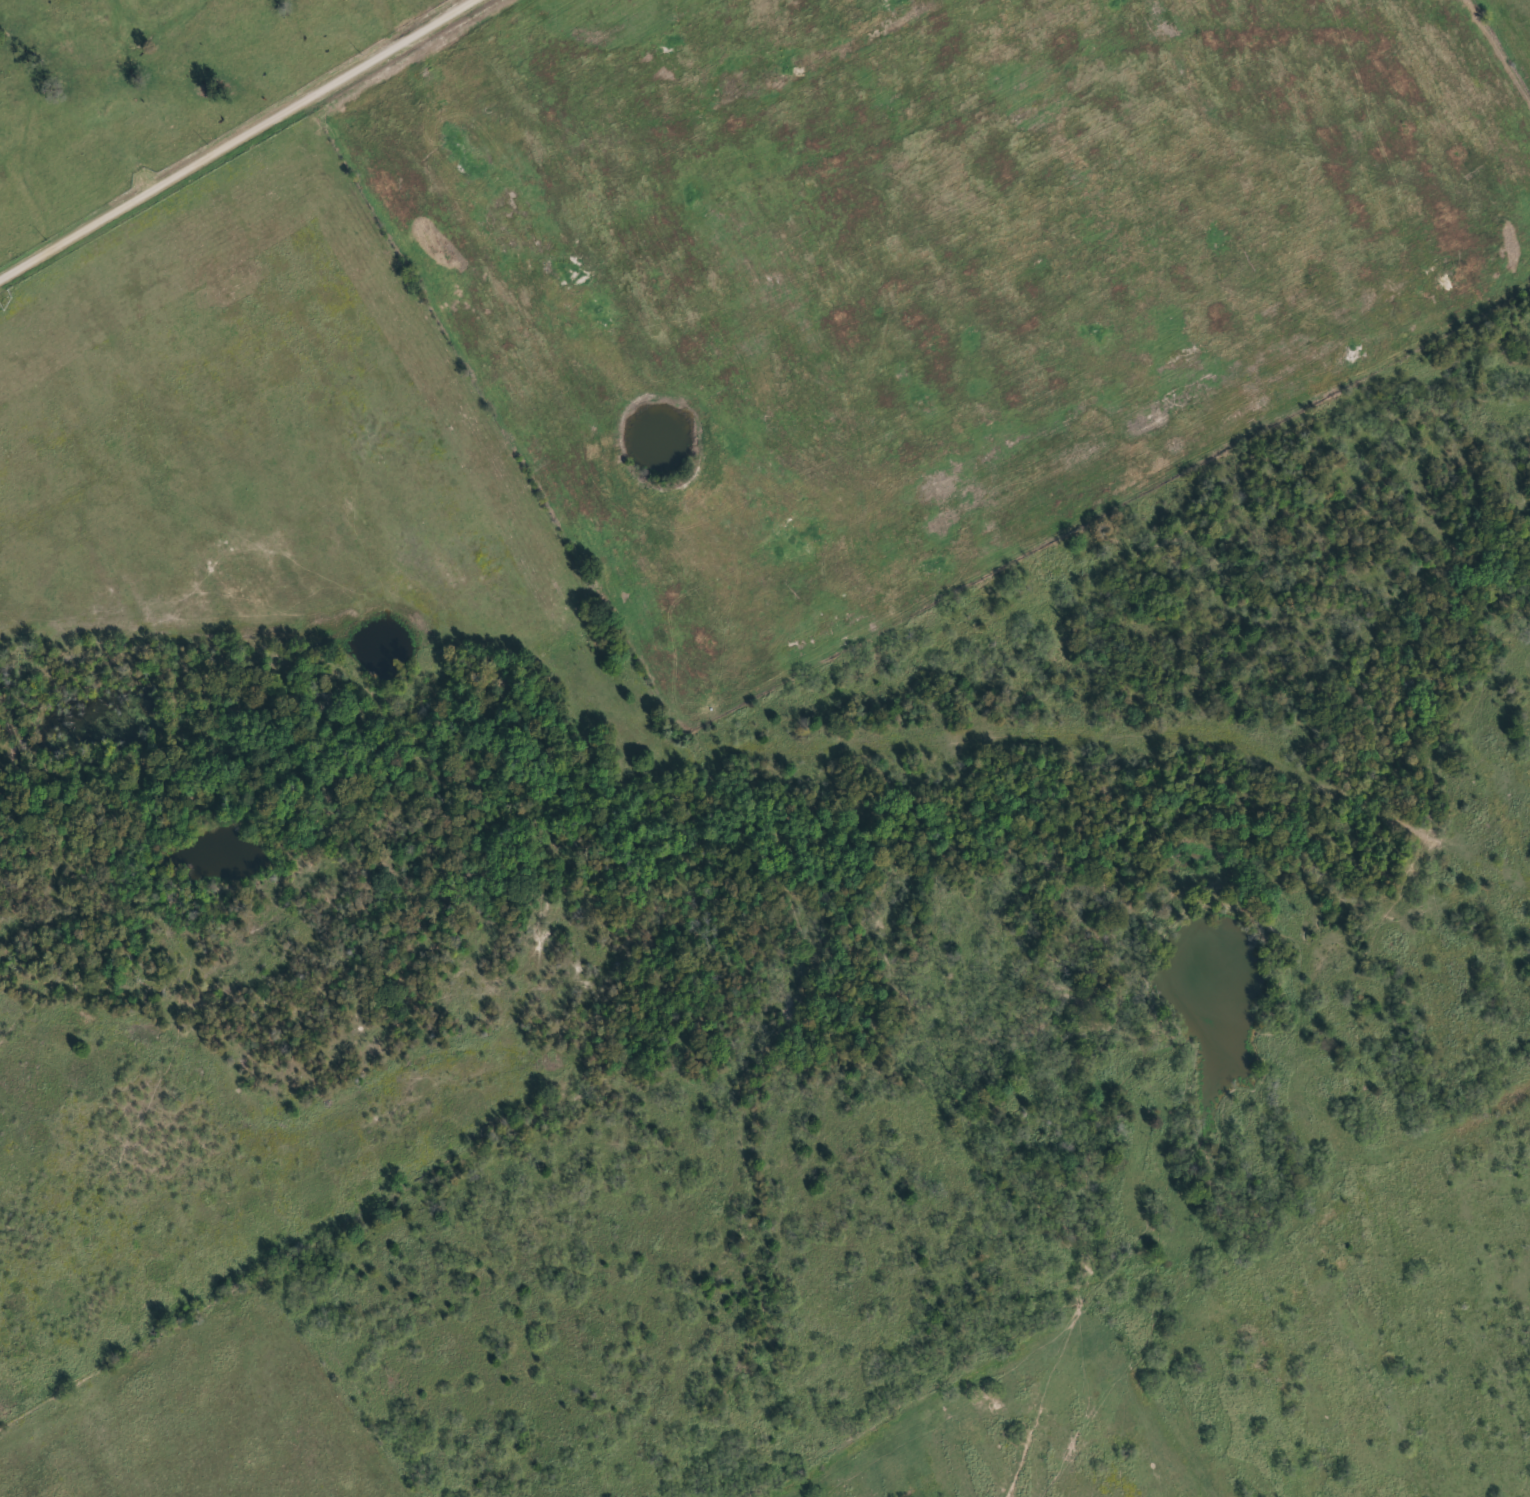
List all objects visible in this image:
road: (236, 139)

